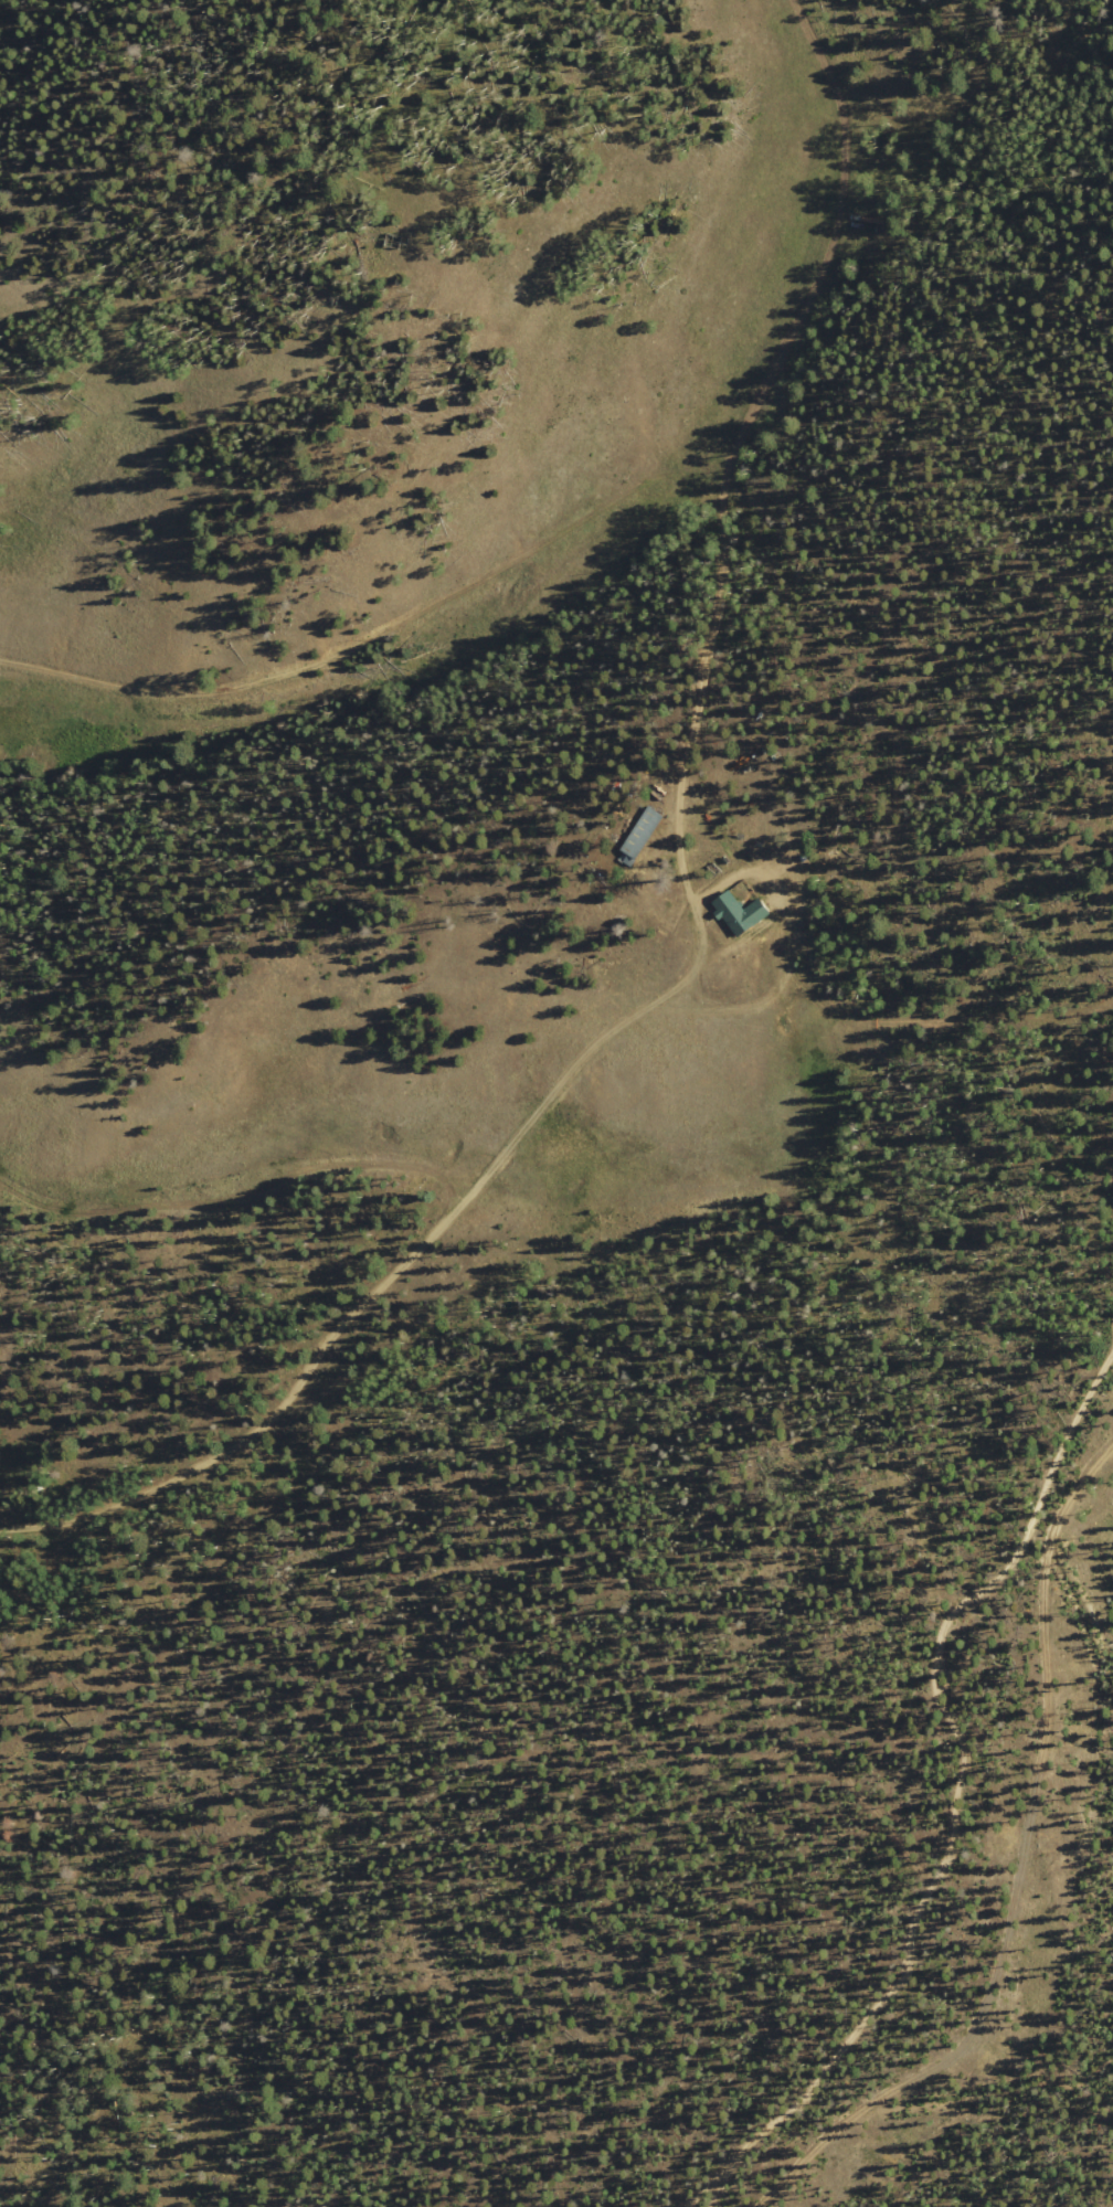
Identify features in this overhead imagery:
building: (638, 836)
building: (739, 912)
road: (907, 1813)

